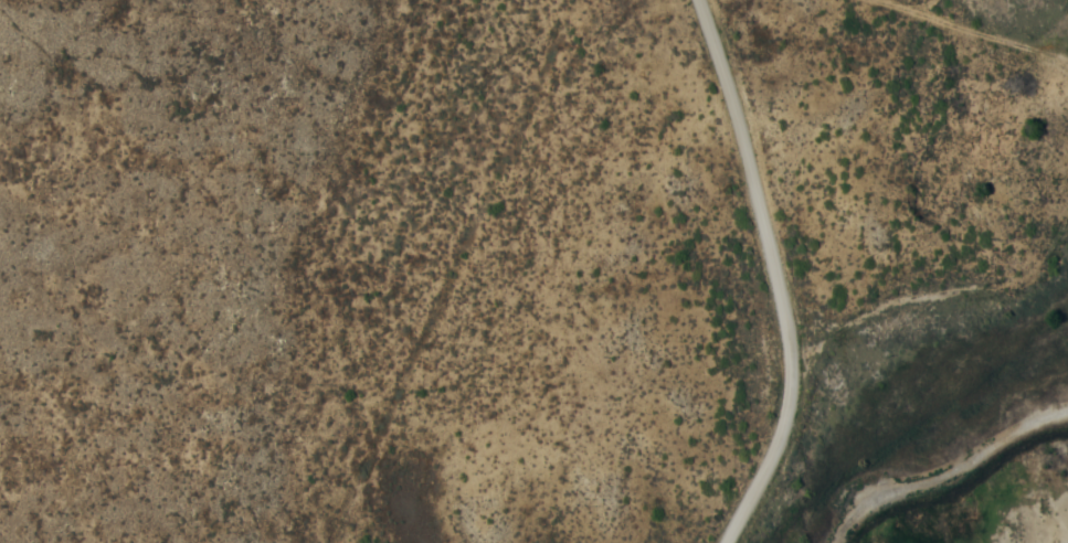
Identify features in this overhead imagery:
road: (779, 274)

